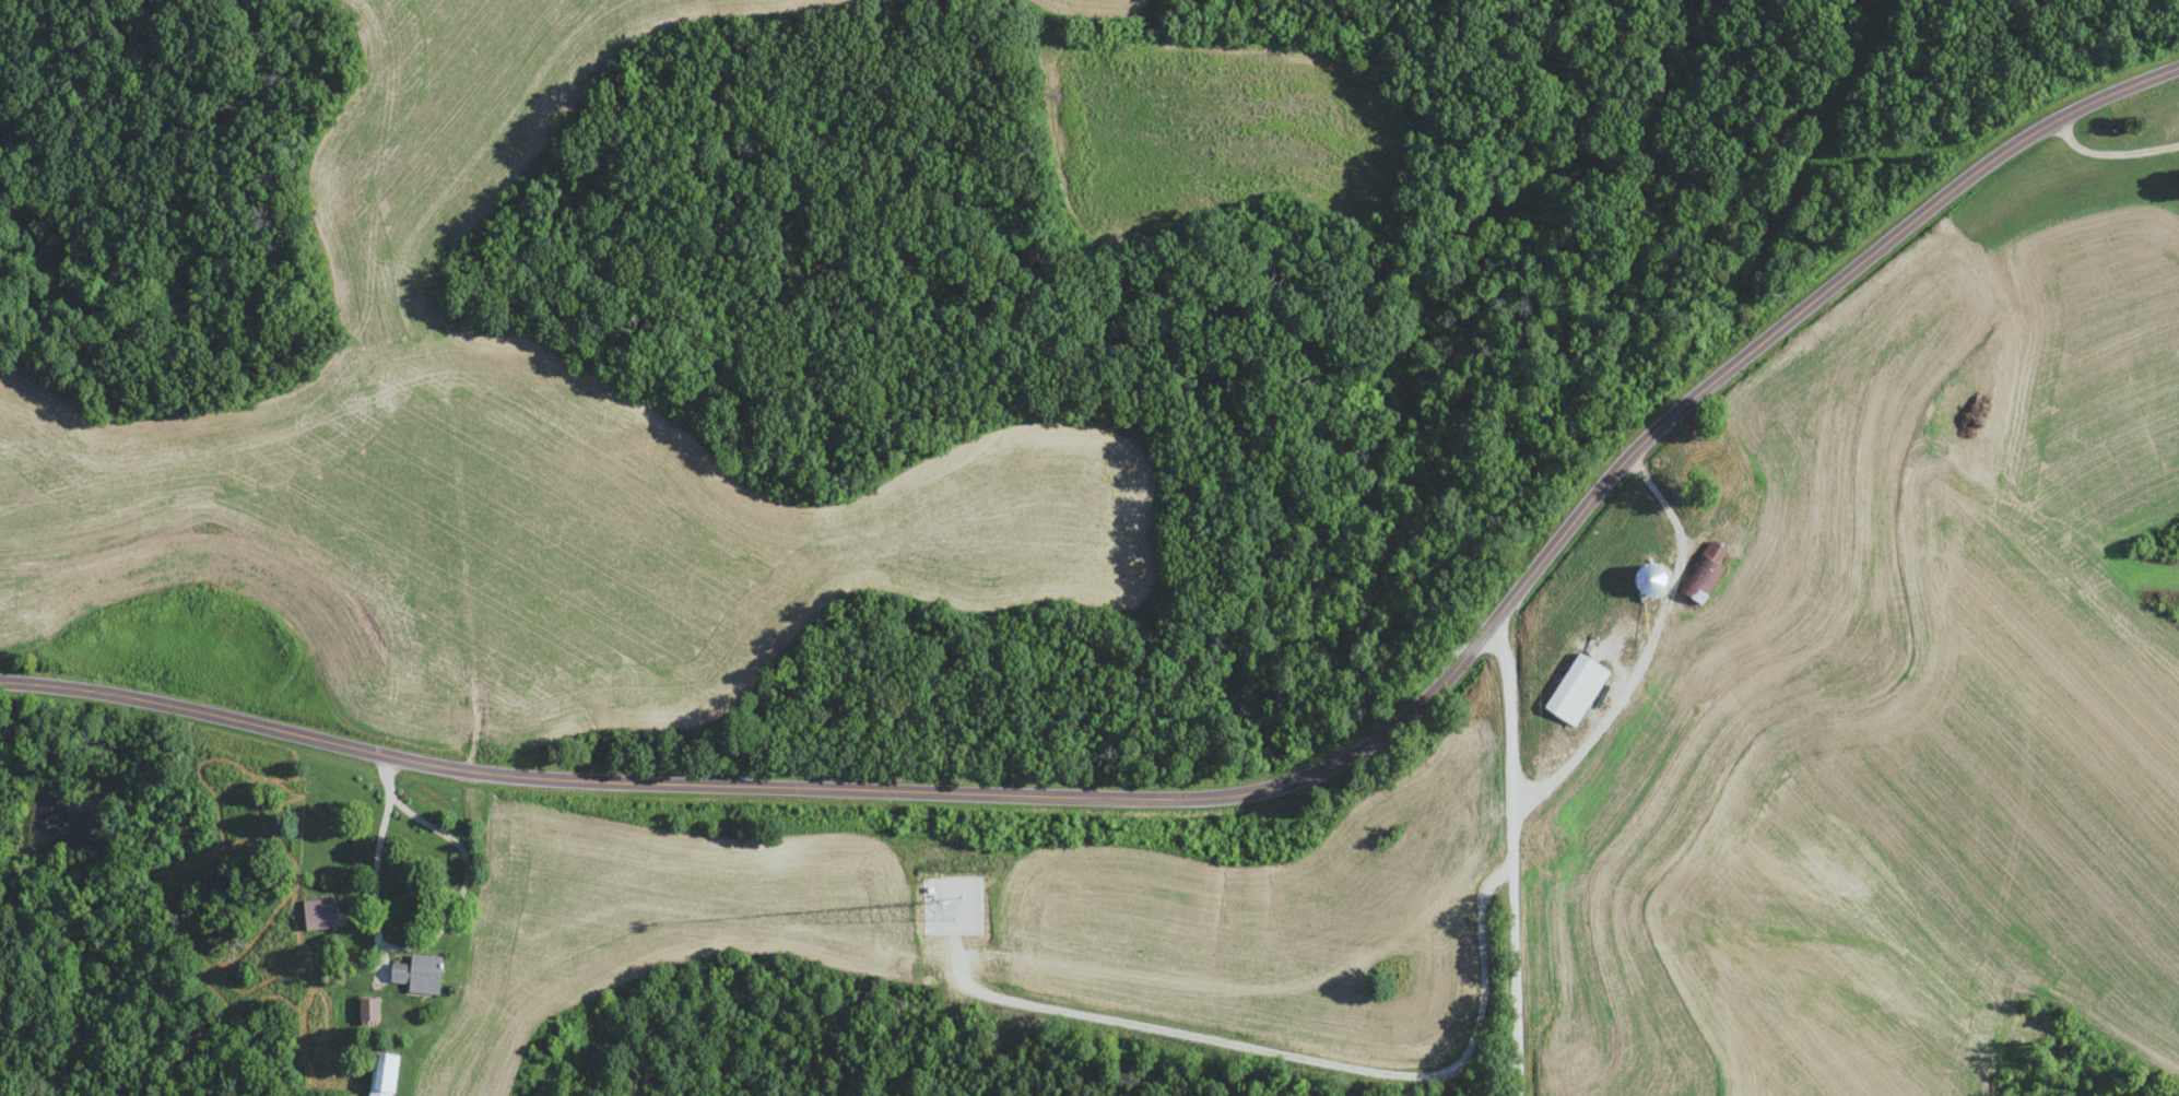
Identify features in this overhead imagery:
road: (2113, 153)
building: (1698, 575)
road: (1649, 647)
building: (1570, 691)
road: (1218, 800)
road: (1517, 858)
road: (379, 867)
building: (320, 915)
building: (423, 974)
building: (373, 1010)
building: (388, 1074)

